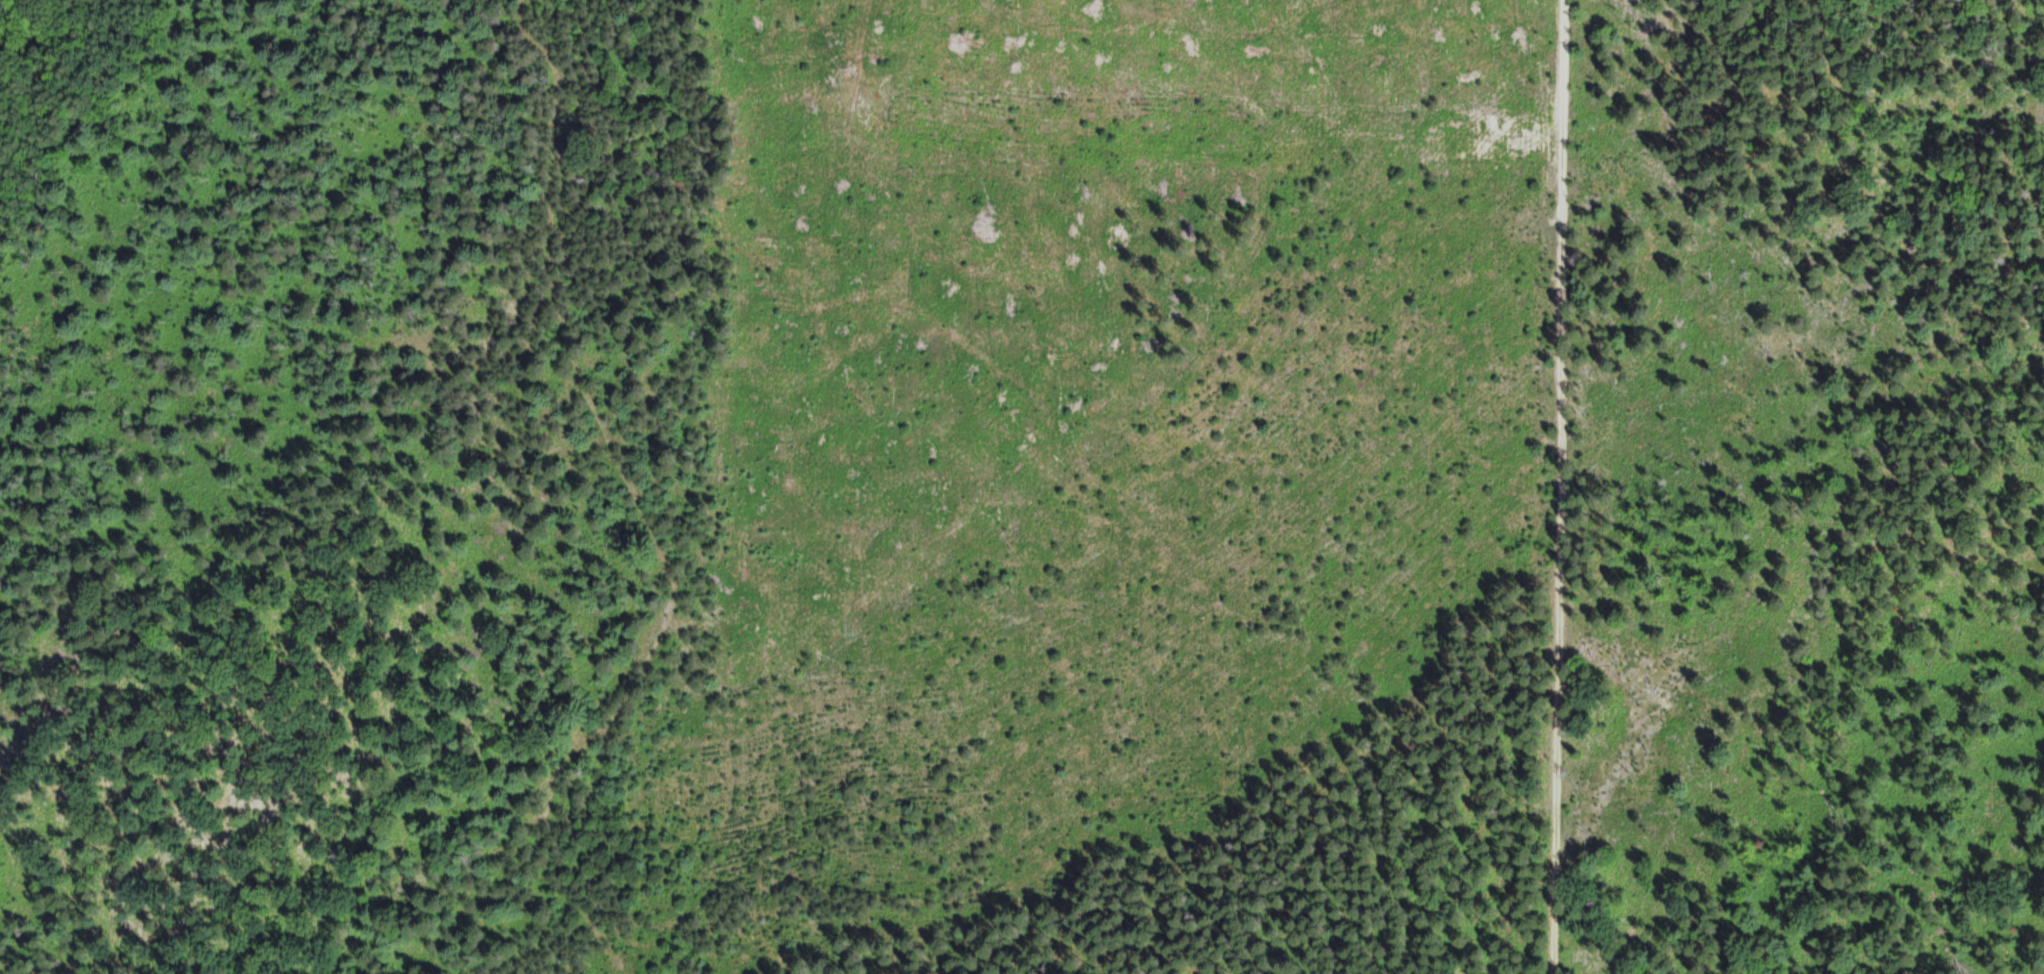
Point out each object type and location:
road: (598, 412)
road: (1560, 487)

